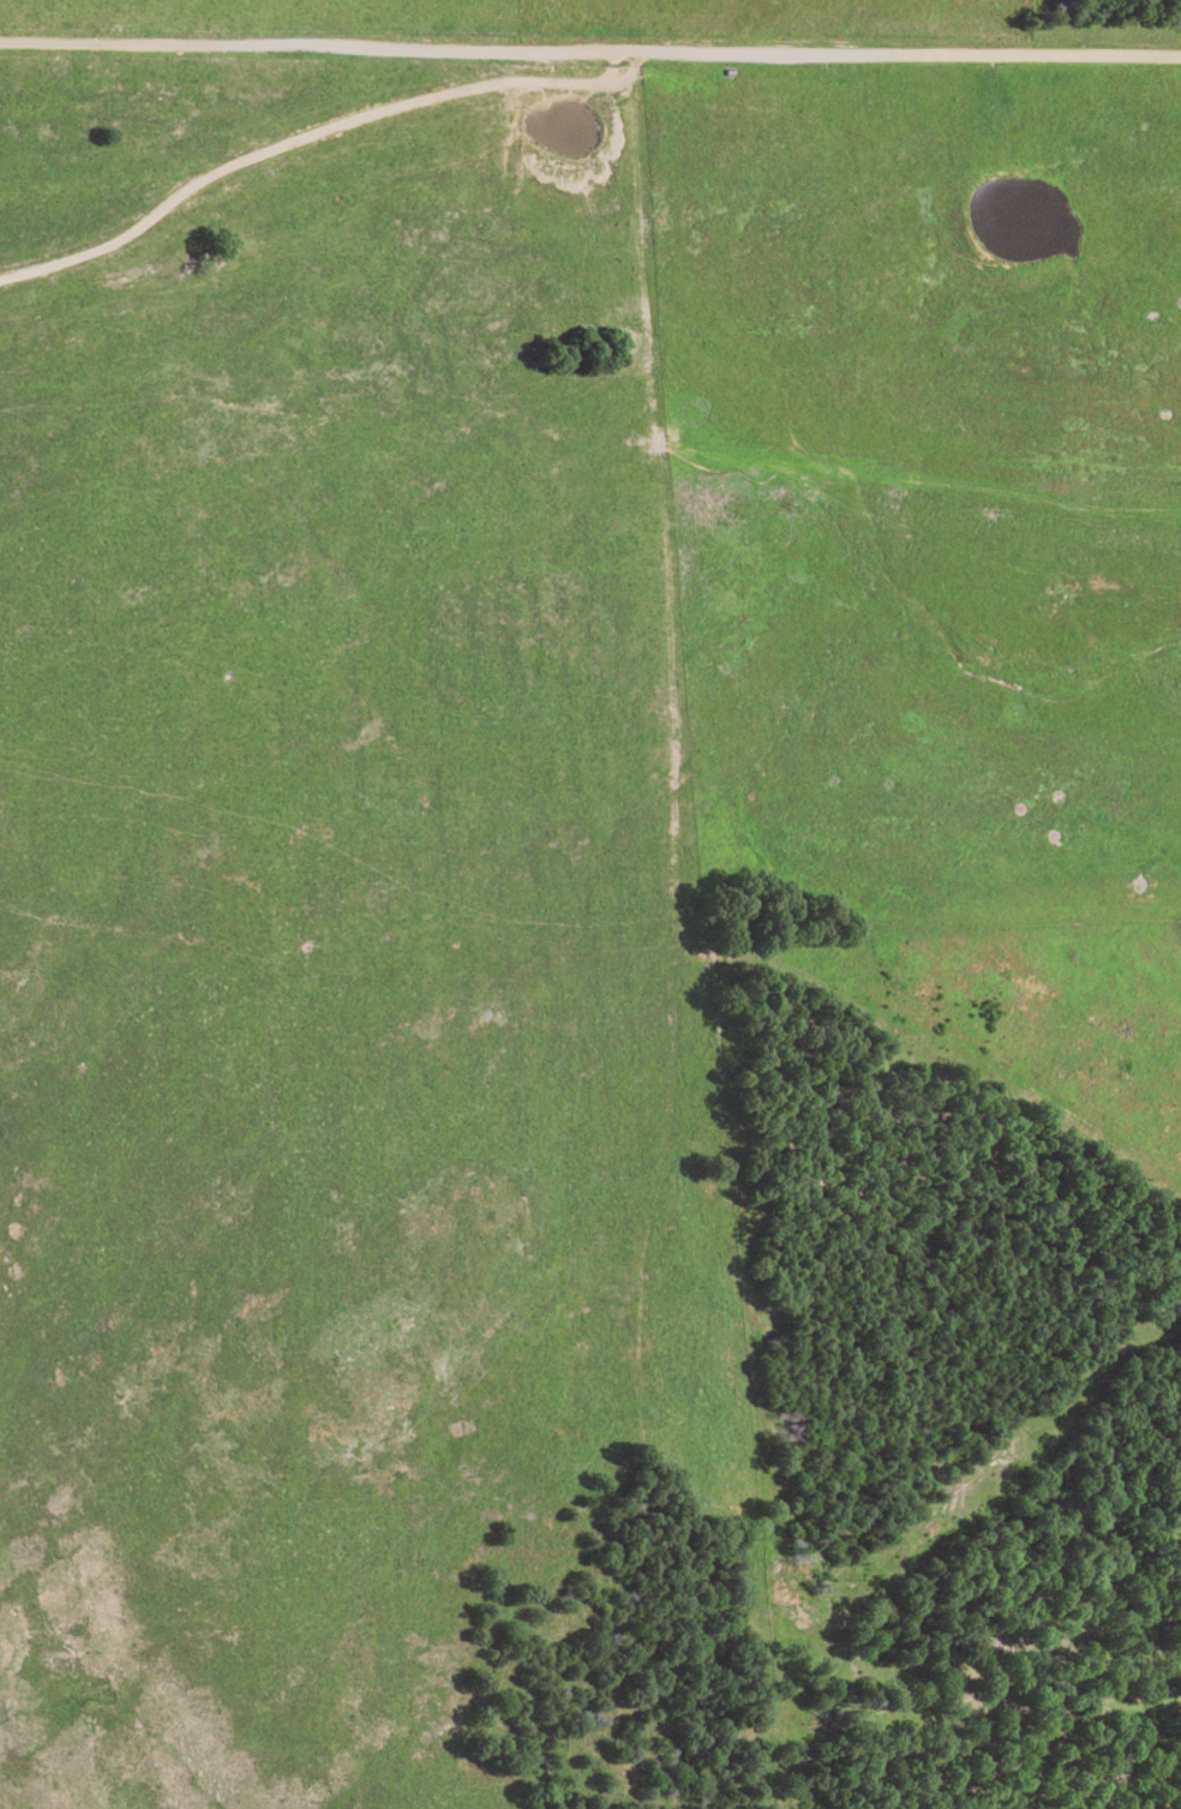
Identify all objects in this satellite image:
road: (589, 55)

